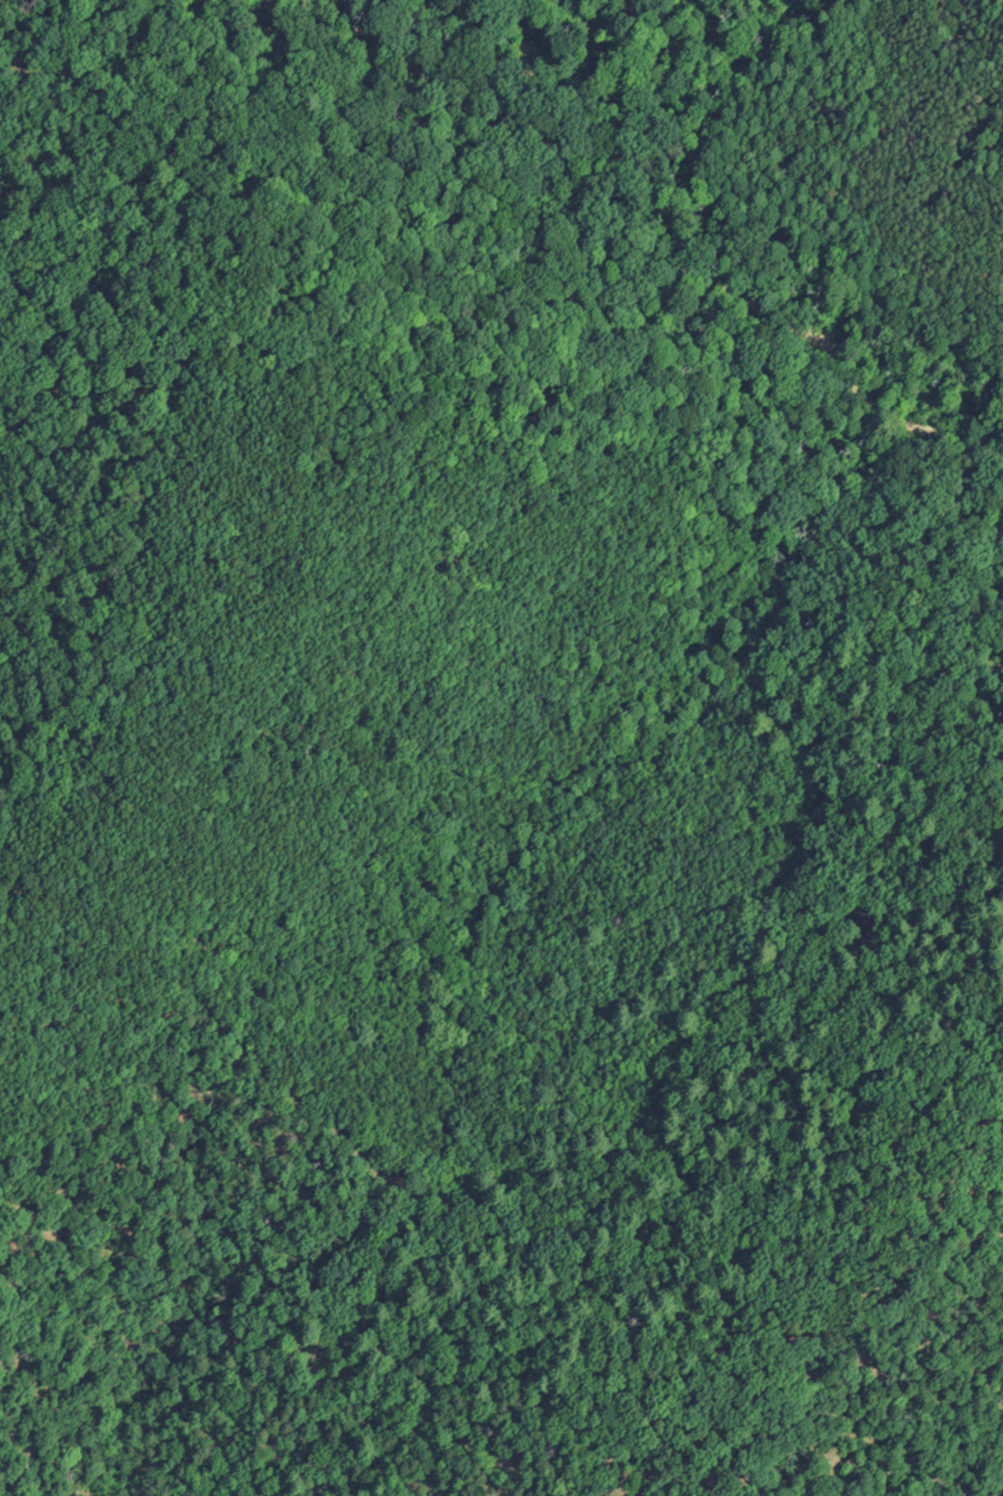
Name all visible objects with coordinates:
road: (647, 251)

